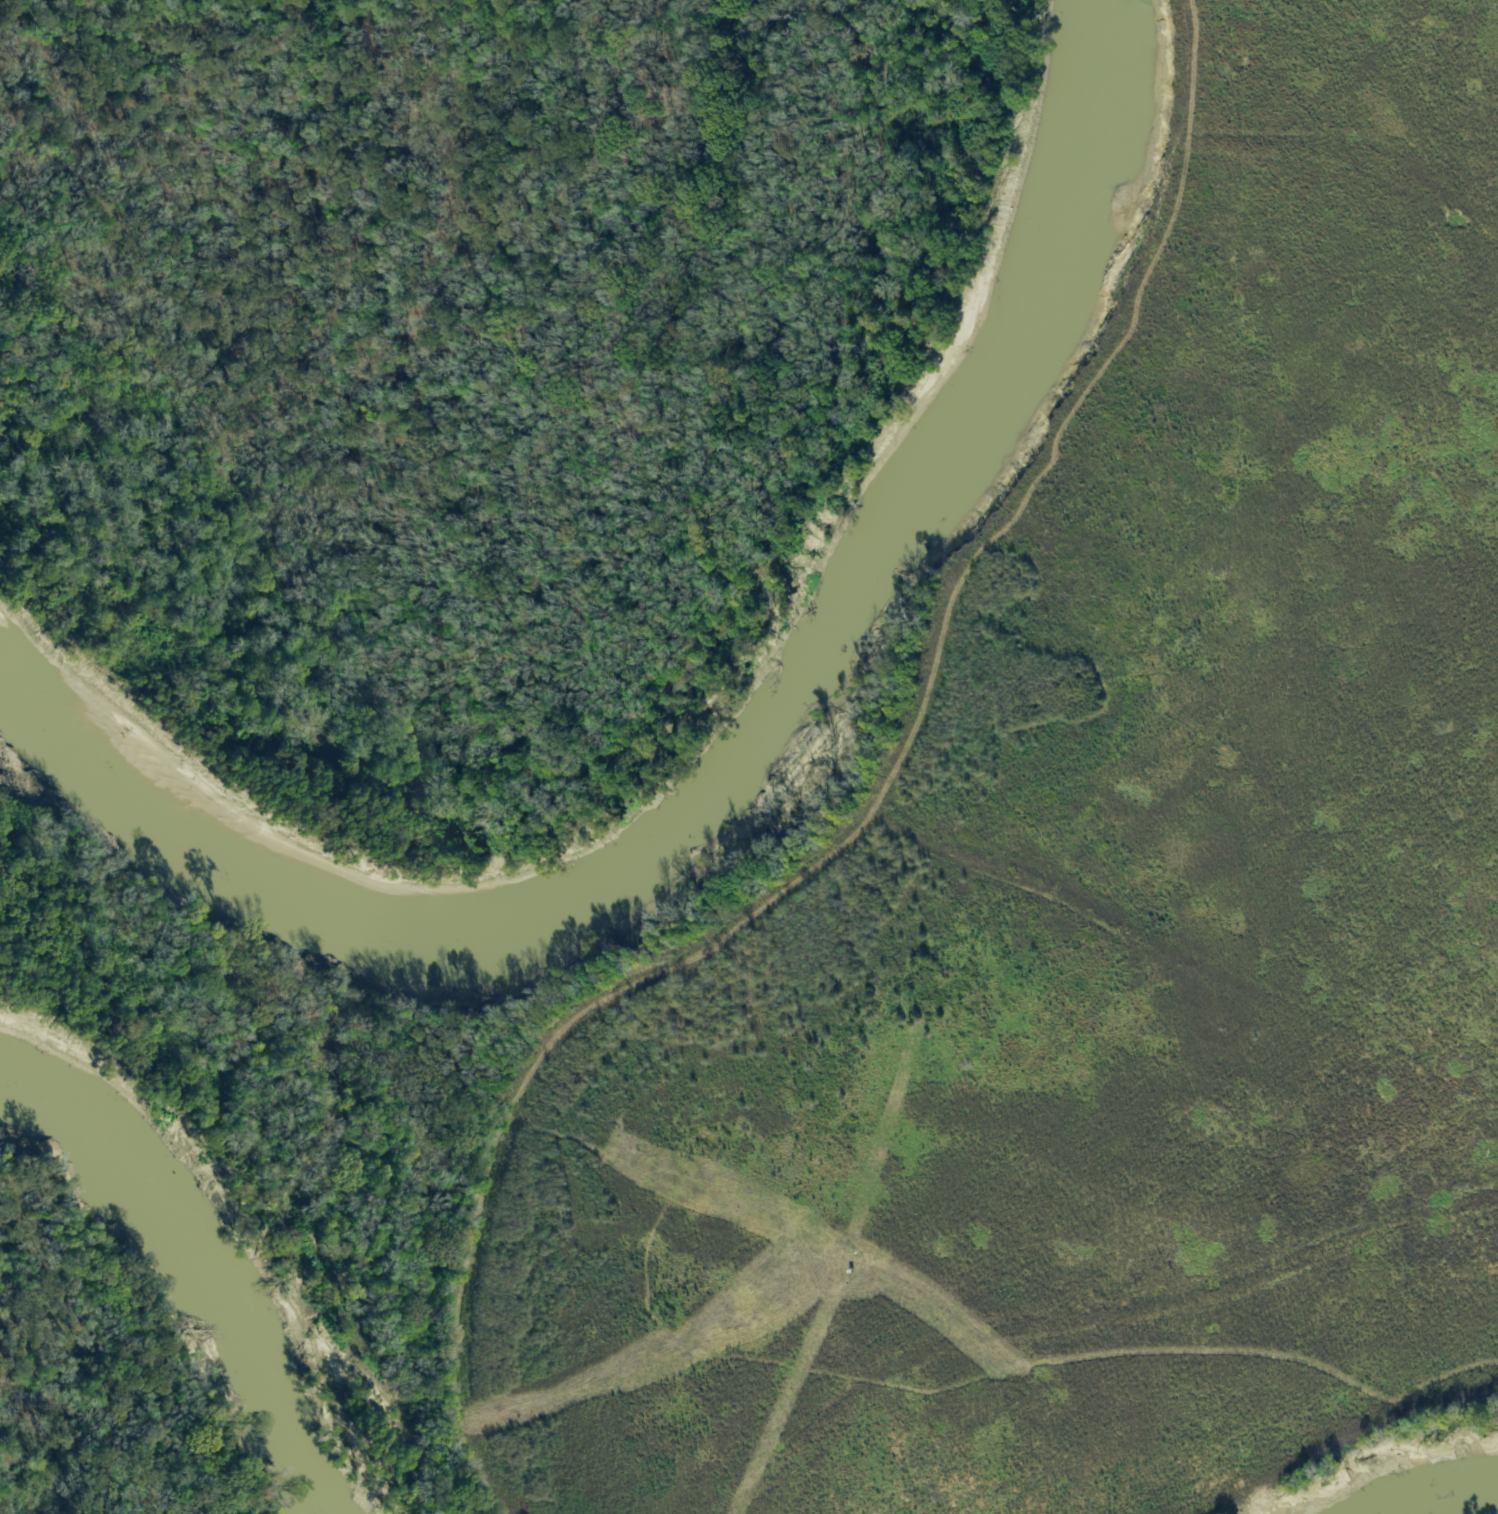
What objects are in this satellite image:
river: (725, 761)
river: (212, 1250)
river: (1474, 1507)

